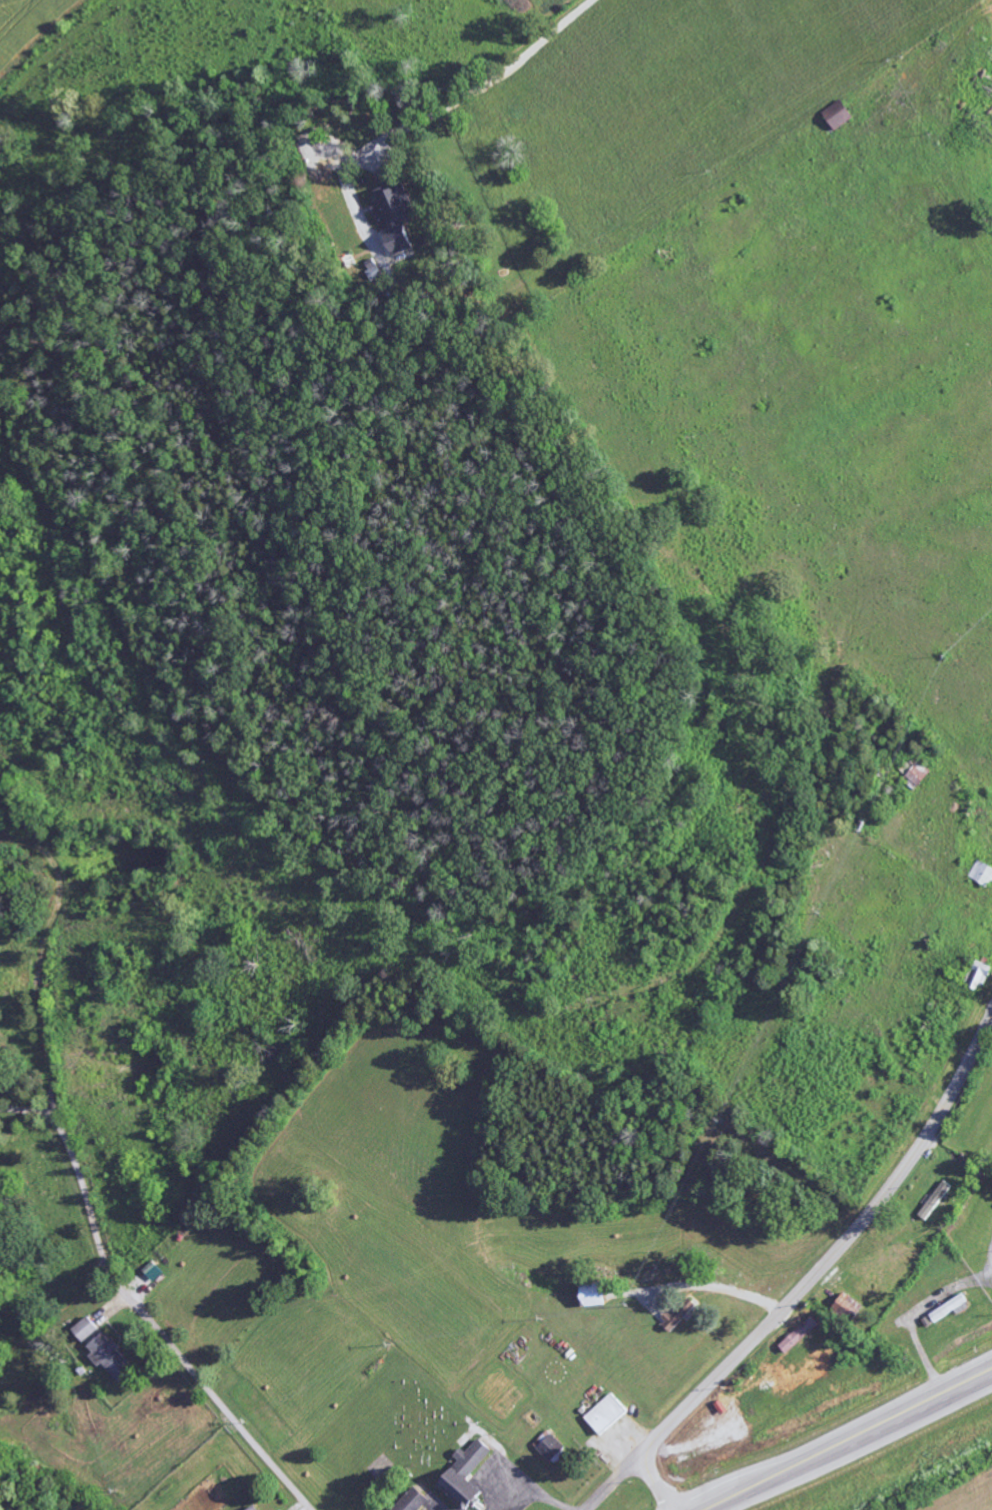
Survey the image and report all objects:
building: (842, 115)
building: (375, 270)
building: (981, 976)
building: (937, 1200)
road: (818, 1273)
building: (597, 1295)
building: (851, 1306)
building: (950, 1307)
road: (151, 1323)
building: (86, 1329)
building: (110, 1357)
building: (607, 1414)
road: (850, 1440)
building: (552, 1448)
building: (467, 1476)
building: (414, 1501)
building: (255, 1508)

